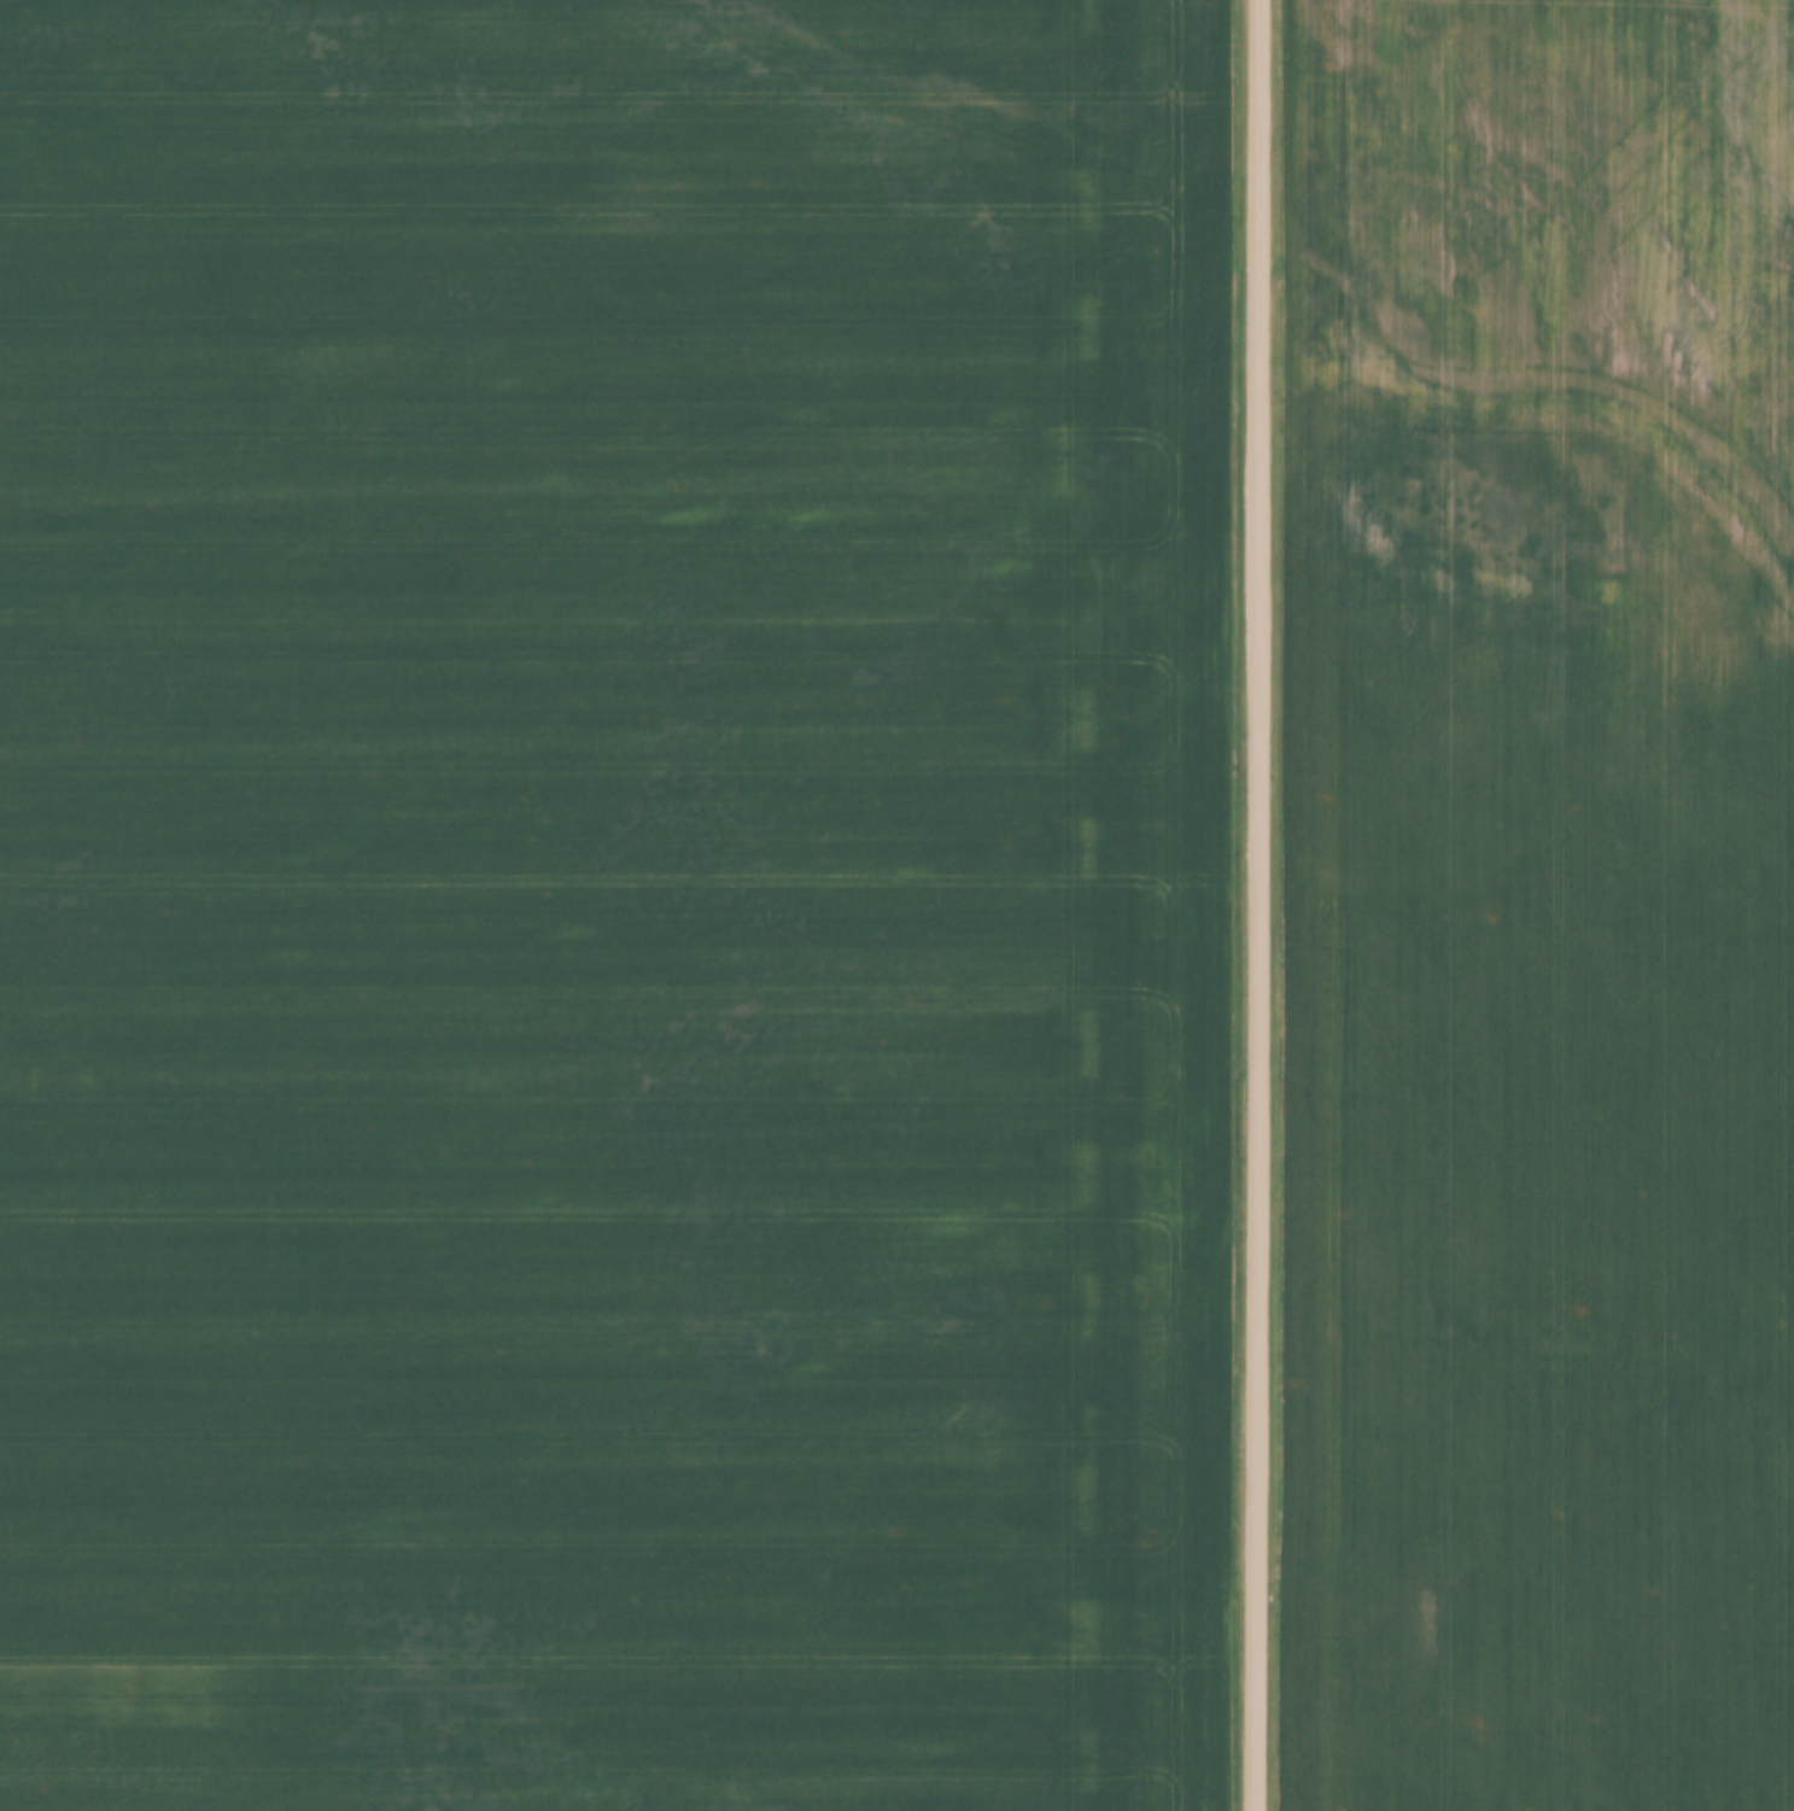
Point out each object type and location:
road: (1264, 905)

